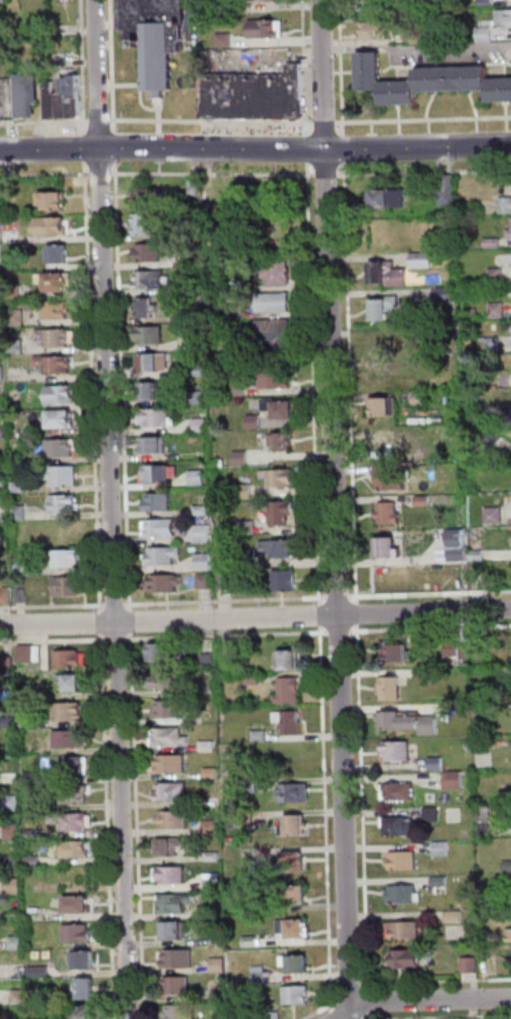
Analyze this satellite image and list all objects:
building: (3, 1)
building: (265, 1)
building: (488, 3)
building: (226, 6)
building: (375, 8)
building: (505, 18)
road: (191, 21)
parking lot: (194, 22)
building: (267, 30)
building: (379, 33)
building: (486, 35)
building: (416, 37)
building: (155, 38)
building: (226, 41)
road: (418, 44)
road: (114, 66)
road: (85, 68)
road: (307, 68)
road: (343, 69)
building: (370, 72)
road: (101, 73)
building: (435, 80)
building: (471, 80)
building: (500, 92)
building: (400, 94)
building: (75, 96)
building: (255, 96)
building: (30, 97)
building: (10, 100)
building: (54, 102)
building: (64, 106)
road: (423, 120)
road: (102, 121)
road: (46, 122)
road: (214, 122)
road: (326, 124)
road: (116, 147)
road: (87, 149)
road: (310, 149)
road: (51, 150)
road: (307, 150)
road: (346, 150)
road: (424, 173)
road: (102, 174)
road: (45, 175)
road: (215, 175)
road: (328, 175)
building: (196, 188)
building: (448, 192)
building: (151, 198)
building: (390, 200)
building: (55, 203)
building: (506, 206)
building: (463, 213)
building: (145, 226)
building: (52, 228)
building: (198, 233)
building: (510, 234)
building: (1, 238)
building: (494, 244)
building: (151, 254)
building: (61, 256)
building: (196, 261)
building: (423, 261)
building: (1, 264)
building: (279, 272)
building: (389, 275)
building: (497, 276)
building: (487, 279)
building: (152, 281)
building: (56, 284)
building: (222, 285)
building: (15, 290)
building: (197, 290)
building: (448, 295)
building: (276, 303)
building: (147, 309)
building: (385, 309)
building: (58, 311)
building: (499, 311)
building: (226, 313)
building: (475, 313)
building: (2, 319)
building: (18, 319)
building: (278, 332)
building: (151, 335)
building: (58, 337)
building: (452, 337)
building: (198, 344)
building: (491, 345)
building: (18, 347)
building: (385, 347)
building: (156, 362)
building: (56, 365)
building: (198, 371)
building: (459, 371)
building: (3, 373)
building: (395, 374)
building: (276, 380)
road: (315, 383)
road: (353, 383)
road: (96, 387)
road: (125, 387)
building: (240, 390)
building: (154, 391)
building: (63, 395)
building: (200, 397)
building: (420, 399)
building: (3, 404)
building: (386, 408)
building: (281, 410)
building: (504, 415)
building: (159, 417)
building: (63, 421)
building: (256, 422)
building: (203, 425)
building: (2, 433)
building: (387, 440)
building: (495, 440)
building: (283, 442)
building: (156, 446)
building: (64, 449)
building: (0, 457)
building: (243, 458)
building: (22, 459)
building: (161, 473)
building: (65, 477)
building: (199, 478)
building: (283, 478)
building: (391, 480)
building: (5, 487)
building: (22, 488)
building: (246, 492)
building: (425, 502)
building: (160, 503)
building: (66, 505)
road: (338, 509)
building: (204, 510)
building: (20, 513)
building: (285, 514)
building: (390, 514)
building: (495, 516)
building: (161, 528)
building: (249, 528)
building: (68, 530)
building: (205, 534)
building: (458, 547)
building: (282, 549)
building: (388, 551)
building: (165, 557)
building: (478, 557)
building: (252, 559)
building: (68, 560)
building: (206, 562)
building: (24, 568)
building: (394, 577)
building: (207, 581)
building: (226, 581)
building: (286, 581)
road: (116, 583)
building: (167, 584)
building: (70, 588)
road: (430, 594)
building: (22, 597)
building: (6, 598)
road: (341, 598)
road: (229, 601)
road: (117, 605)
road: (54, 607)
road: (359, 614)
road: (322, 615)
road: (132, 617)
road: (255, 618)
road: (104, 623)
road: (431, 628)
road: (341, 631)
road: (228, 635)
road: (118, 640)
road: (54, 641)
building: (454, 650)
building: (29, 653)
building: (398, 654)
building: (160, 656)
building: (73, 660)
building: (212, 662)
building: (10, 663)
building: (290, 664)
building: (426, 674)
building: (253, 681)
building: (74, 683)
building: (166, 685)
building: (393, 689)
building: (288, 694)
building: (484, 708)
building: (175, 711)
building: (70, 712)
building: (10, 723)
building: (31, 724)
building: (288, 725)
building: (410, 725)
building: (261, 736)
building: (71, 739)
building: (170, 739)
building: (484, 744)
building: (209, 747)
building: (399, 752)
building: (438, 764)
building: (173, 765)
building: (77, 766)
building: (213, 774)
building: (36, 777)
building: (456, 781)
building: (250, 785)
building: (401, 792)
building: (173, 793)
building: (76, 795)
building: (295, 795)
building: (507, 798)
building: (13, 803)
road: (365, 807)
building: (434, 815)
road: (328, 816)
building: (247, 820)
building: (74, 821)
building: (175, 821)
road: (110, 827)
building: (212, 828)
building: (296, 829)
building: (403, 830)
building: (14, 832)
building: (34, 833)
building: (443, 849)
building: (75, 850)
building: (171, 850)
building: (214, 857)
building: (34, 859)
building: (15, 861)
building: (404, 861)
building: (293, 866)
building: (508, 867)
building: (173, 878)
building: (214, 882)
building: (441, 882)
building: (15, 885)
building: (405, 897)
building: (297, 898)
building: (489, 900)
building: (82, 905)
building: (174, 906)
building: (219, 911)
building: (455, 916)
building: (18, 918)
building: (404, 931)
building: (294, 932)
building: (79, 934)
building: (174, 934)
building: (510, 935)
building: (219, 942)
building: (252, 942)
building: (19, 943)
building: (179, 960)
building: (85, 961)
building: (409, 961)
building: (472, 965)
building: (220, 967)
building: (300, 968)
building: (41, 972)
building: (259, 978)
road: (436, 981)
road: (351, 984)
road: (337, 985)
building: (177, 988)
building: (86, 990)
building: (40, 996)
building: (221, 996)
building: (21, 997)
building: (298, 997)
road: (431, 999)
road: (371, 1001)
building: (86, 1013)
building: (181, 1013)
road: (334, 1013)
road: (371, 1015)
building: (277, 1016)
road: (346, 1017)
road: (367, 1018)

